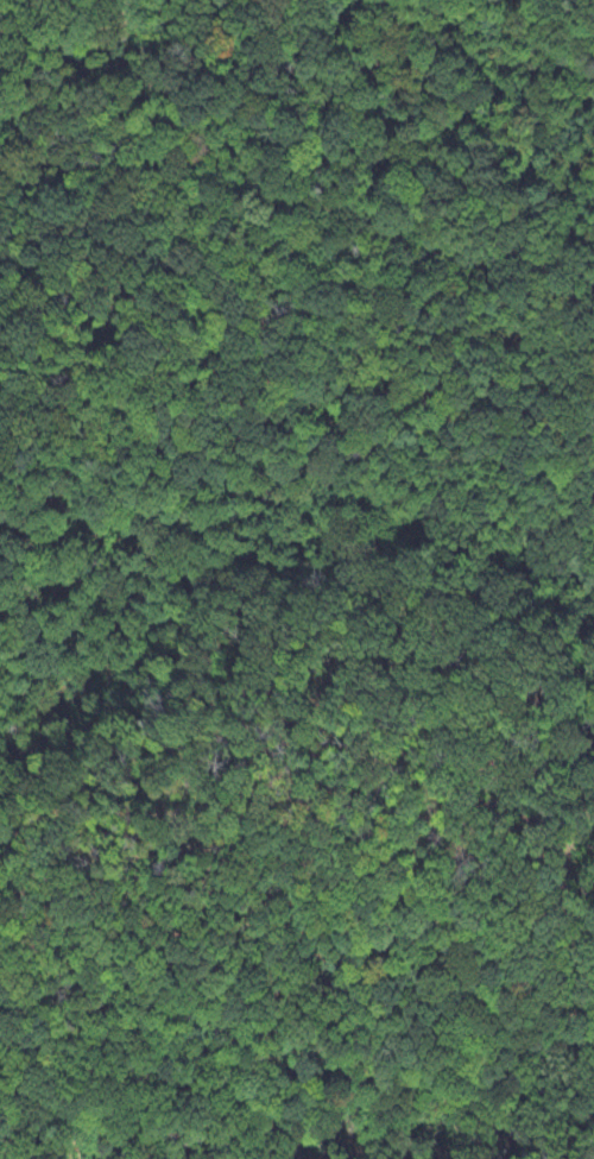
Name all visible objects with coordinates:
road: (297, 220)
park: (297, 579)

